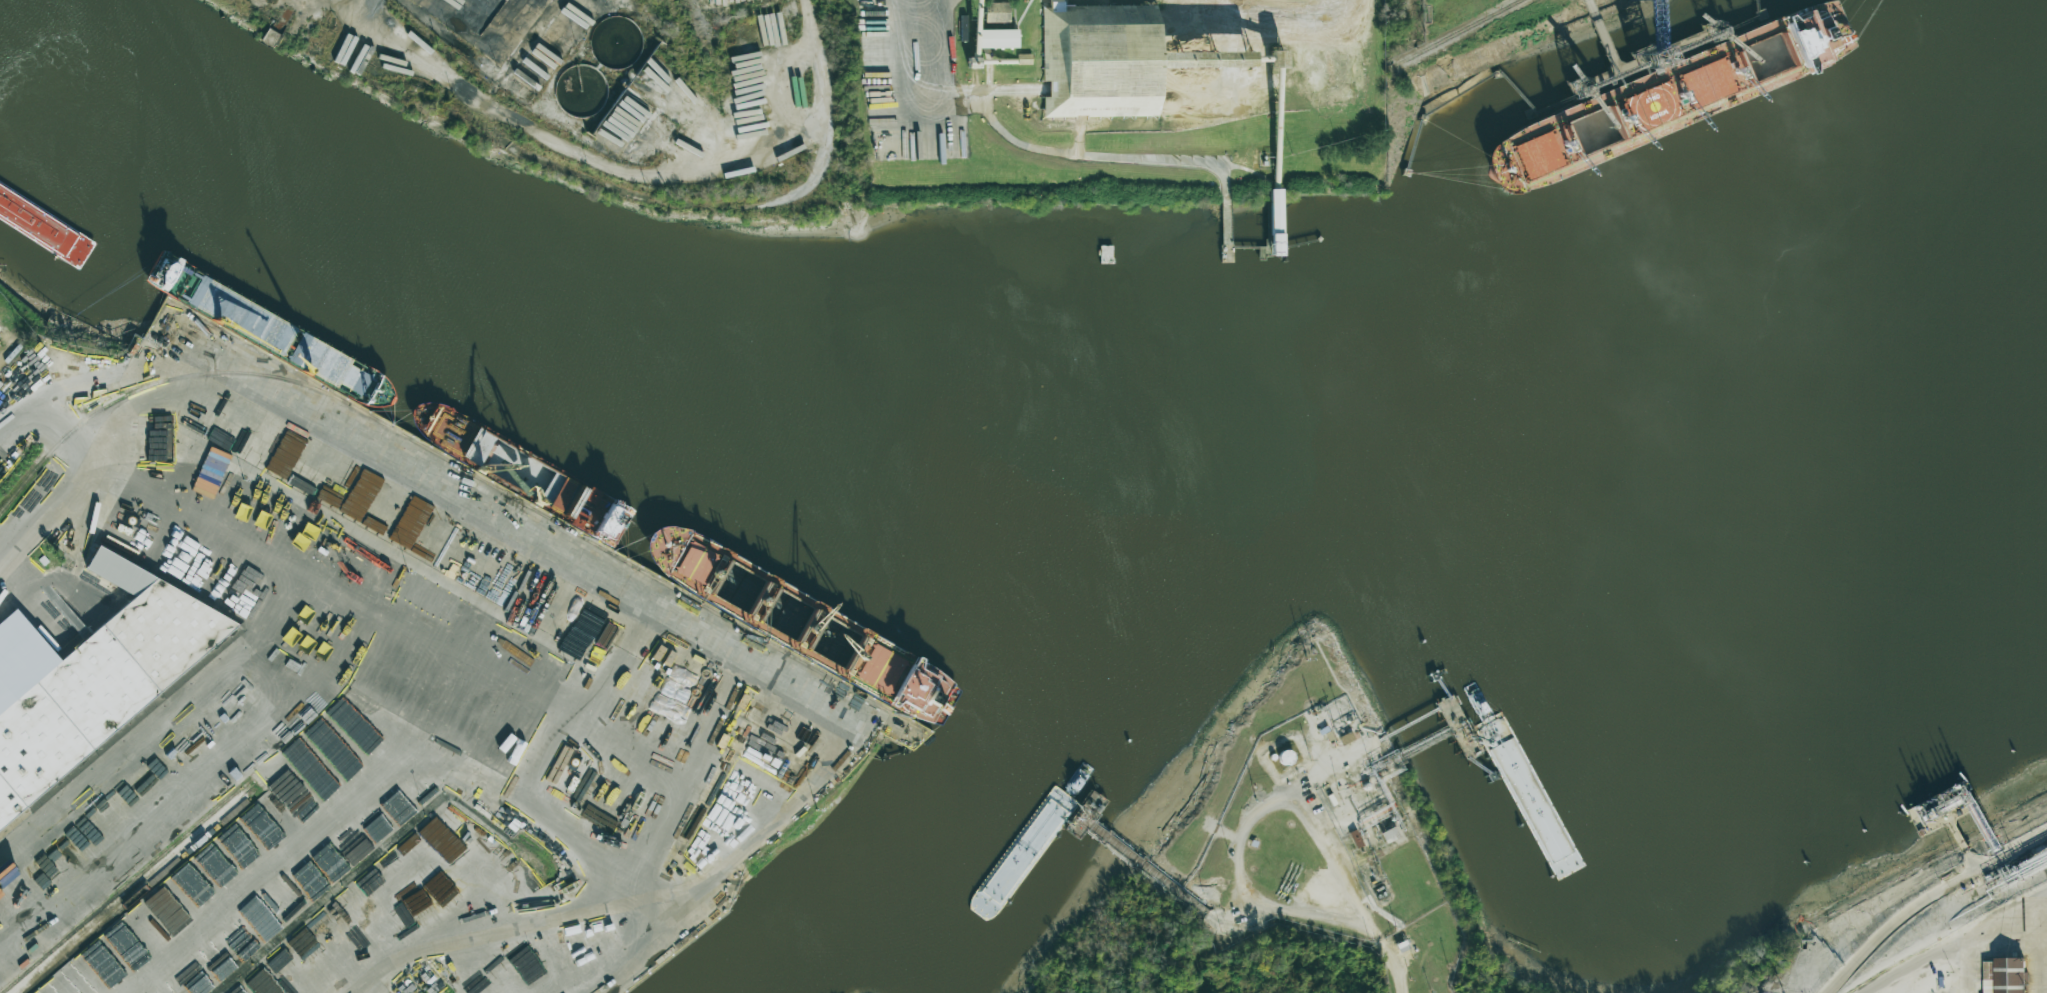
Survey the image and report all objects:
building: (997, 12)
railway: (1455, 33)
building: (999, 38)
building: (1100, 60)
road: (814, 65)
road: (911, 68)
road: (1342, 118)
road: (565, 148)
road: (1033, 150)
building: (1276, 214)
railway: (154, 383)
road: (16, 431)
river: (1009, 474)
railway: (546, 516)
road: (44, 526)
building: (434, 533)
building: (267, 635)
road: (705, 649)
railway: (122, 745)
river: (1021, 809)
pier: (1076, 825)
railway: (172, 847)
railway: (185, 853)
pier: (1132, 859)
road: (1331, 861)
road: (1936, 907)
road: (1283, 912)
road: (2002, 912)
road: (2041, 941)
road: (1959, 942)
building: (2004, 975)
building: (415, 982)

